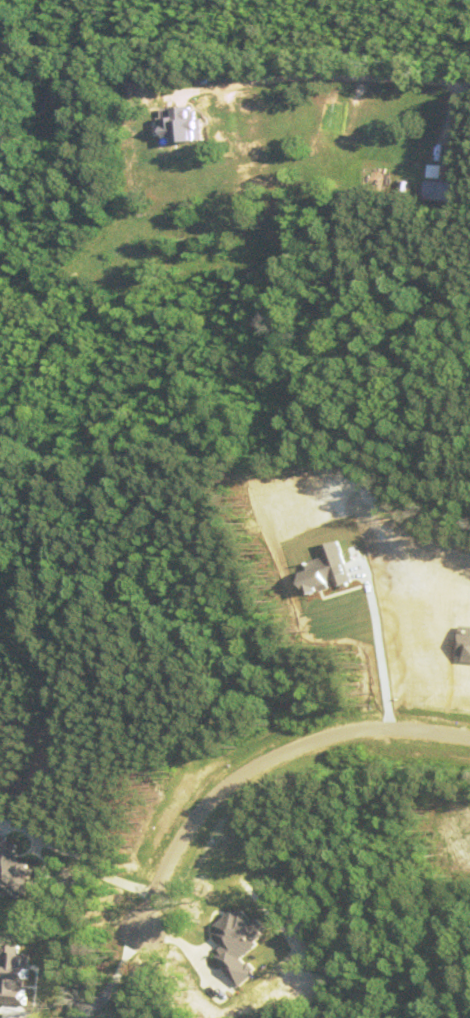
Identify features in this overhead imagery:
building: (438, 191)
road: (266, 763)
road: (136, 971)

